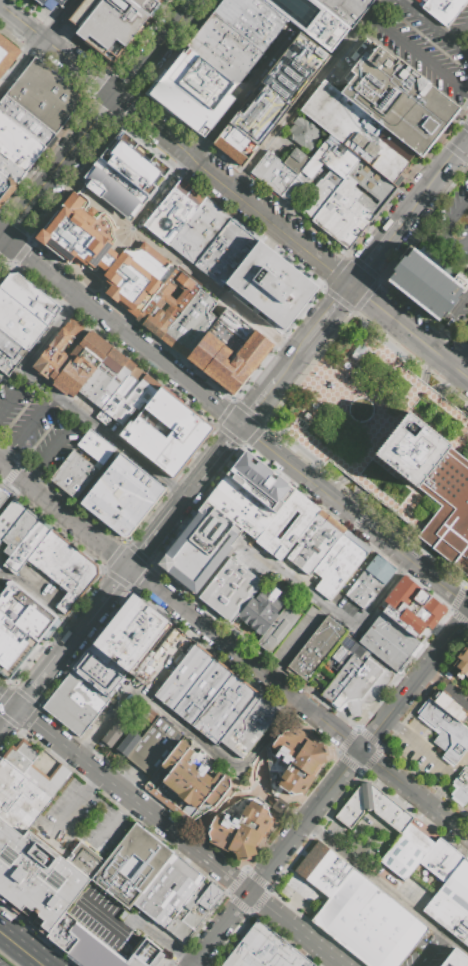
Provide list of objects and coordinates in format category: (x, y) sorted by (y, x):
building: (423, 0)
building: (49, 3)
parking garage: (49, 3)
building: (146, 5)
building: (345, 9)
building: (443, 10)
building: (268, 12)
building: (256, 17)
building: (312, 20)
road: (64, 21)
building: (246, 21)
building: (108, 24)
road: (23, 25)
building: (240, 27)
road: (432, 28)
road: (459, 30)
building: (233, 37)
parking lot: (427, 45)
road: (153, 48)
building: (224, 48)
building: (7, 54)
road: (418, 56)
building: (216, 59)
road: (20, 65)
road: (81, 69)
building: (194, 92)
road: (242, 96)
road: (306, 96)
building: (46, 97)
traffic signals: (115, 97)
building: (273, 98)
building: (396, 100)
building: (27, 122)
road: (153, 129)
building: (356, 131)
building: (305, 133)
building: (22, 134)
road: (464, 139)
road: (464, 141)
building: (20, 143)
traffic signals: (461, 143)
road: (464, 145)
building: (16, 155)
building: (295, 159)
building: (134, 162)
road: (59, 167)
building: (266, 167)
building: (347, 167)
building: (11, 170)
building: (281, 179)
road: (432, 181)
building: (117, 183)
building: (295, 188)
building: (6, 190)
road: (160, 192)
building: (173, 193)
building: (318, 194)
building: (107, 195)
building: (357, 196)
building: (180, 198)
road: (94, 200)
building: (185, 202)
building: (191, 206)
building: (327, 209)
building: (337, 216)
building: (84, 221)
road: (446, 222)
building: (162, 223)
building: (345, 224)
building: (190, 225)
building: (353, 230)
parking lot: (452, 230)
building: (199, 231)
traffic signals: (4, 238)
building: (207, 238)
road: (271, 238)
road: (2, 240)
building: (78, 242)
building: (218, 247)
building: (62, 249)
road: (375, 253)
road: (449, 256)
building: (232, 258)
road: (105, 261)
road: (179, 262)
road: (329, 272)
parking lot: (133, 275)
building: (136, 277)
building: (424, 283)
building: (269, 285)
traffic signals: (349, 287)
building: (30, 296)
building: (166, 303)
road: (219, 306)
building: (22, 313)
parking lot: (465, 314)
road: (122, 319)
road: (323, 319)
road: (447, 320)
building: (189, 324)
road: (261, 325)
road: (120, 329)
building: (16, 331)
road: (48, 335)
building: (212, 339)
building: (246, 344)
building: (56, 346)
building: (11, 347)
road: (459, 356)
building: (355, 357)
building: (68, 360)
building: (6, 362)
building: (79, 363)
building: (220, 364)
road: (287, 367)
building: (86, 369)
building: (97, 371)
building: (235, 377)
park: (3, 380)
building: (108, 380)
road: (270, 388)
road: (425, 390)
road: (15, 393)
road: (53, 393)
building: (147, 394)
building: (118, 395)
building: (131, 399)
building: (156, 400)
parking lot: (353, 404)
building: (165, 408)
road: (253, 410)
building: (308, 418)
traffic signals: (241, 425)
building: (194, 426)
parking lot: (36, 428)
road: (28, 430)
building: (158, 434)
road: (258, 439)
building: (95, 446)
road: (50, 447)
building: (411, 450)
road: (217, 453)
road: (131, 454)
building: (180, 454)
building: (170, 466)
building: (65, 468)
road: (357, 475)
building: (77, 477)
building: (138, 477)
building: (259, 481)
building: (129, 486)
road: (10, 495)
building: (2, 496)
building: (123, 496)
road: (184, 496)
road: (76, 501)
building: (239, 507)
building: (111, 511)
building: (447, 512)
building: (9, 516)
road: (64, 516)
building: (218, 524)
building: (286, 525)
road: (371, 529)
building: (18, 531)
road: (151, 538)
building: (207, 541)
building: (313, 542)
building: (26, 547)
building: (44, 550)
building: (52, 557)
building: (194, 557)
building: (59, 562)
building: (338, 563)
traffic signals: (128, 567)
building: (181, 573)
building: (74, 574)
road: (213, 575)
building: (369, 581)
parking lot: (2, 583)
road: (106, 594)
building: (243, 598)
road: (39, 599)
building: (65, 603)
building: (411, 606)
building: (24, 610)
road: (333, 611)
building: (280, 629)
building: (133, 633)
building: (393, 634)
building: (15, 636)
road: (72, 638)
building: (317, 649)
building: (382, 649)
building: (4, 653)
building: (462, 658)
building: (162, 660)
building: (10, 664)
building: (465, 669)
building: (99, 670)
building: (177, 672)
building: (371, 676)
building: (340, 679)
building: (187, 680)
road: (38, 682)
building: (78, 684)
building: (201, 691)
building: (68, 697)
building: (353, 698)
road: (297, 701)
road: (8, 702)
building: (450, 705)
traffic signals: (16, 709)
building: (223, 709)
building: (58, 710)
building: (86, 712)
building: (431, 713)
building: (147, 714)
road: (8, 719)
building: (243, 721)
building: (254, 730)
road: (188, 732)
building: (112, 734)
building: (451, 738)
building: (146, 741)
building: (127, 743)
building: (287, 743)
road: (418, 744)
building: (159, 751)
parking lot: (418, 753)
building: (20, 755)
road: (358, 755)
building: (309, 756)
building: (47, 778)
building: (192, 779)
building: (294, 779)
building: (461, 786)
road: (440, 787)
road: (249, 792)
road: (267, 793)
building: (19, 798)
building: (372, 808)
road: (217, 809)
road: (71, 814)
parking lot: (81, 821)
road: (114, 822)
building: (239, 831)
road: (423, 831)
road: (178, 837)
parking lot: (368, 840)
building: (406, 852)
building: (122, 858)
building: (311, 859)
building: (428, 859)
building: (85, 860)
building: (437, 866)
building: (323, 868)
building: (445, 872)
building: (141, 873)
building: (335, 877)
building: (36, 878)
building: (160, 884)
road: (385, 888)
parking lot: (301, 895)
building: (177, 896)
building: (210, 897)
building: (452, 903)
building: (192, 912)
road: (115, 921)
building: (369, 922)
parking lot: (119, 923)
building: (179, 929)
road: (220, 930)
road: (442, 938)
building: (99, 947)
road: (172, 947)
road: (21, 948)
building: (265, 950)
parking lot: (431, 952)
road: (430, 954)
building: (453, 958)
parking lot: (4, 962)

